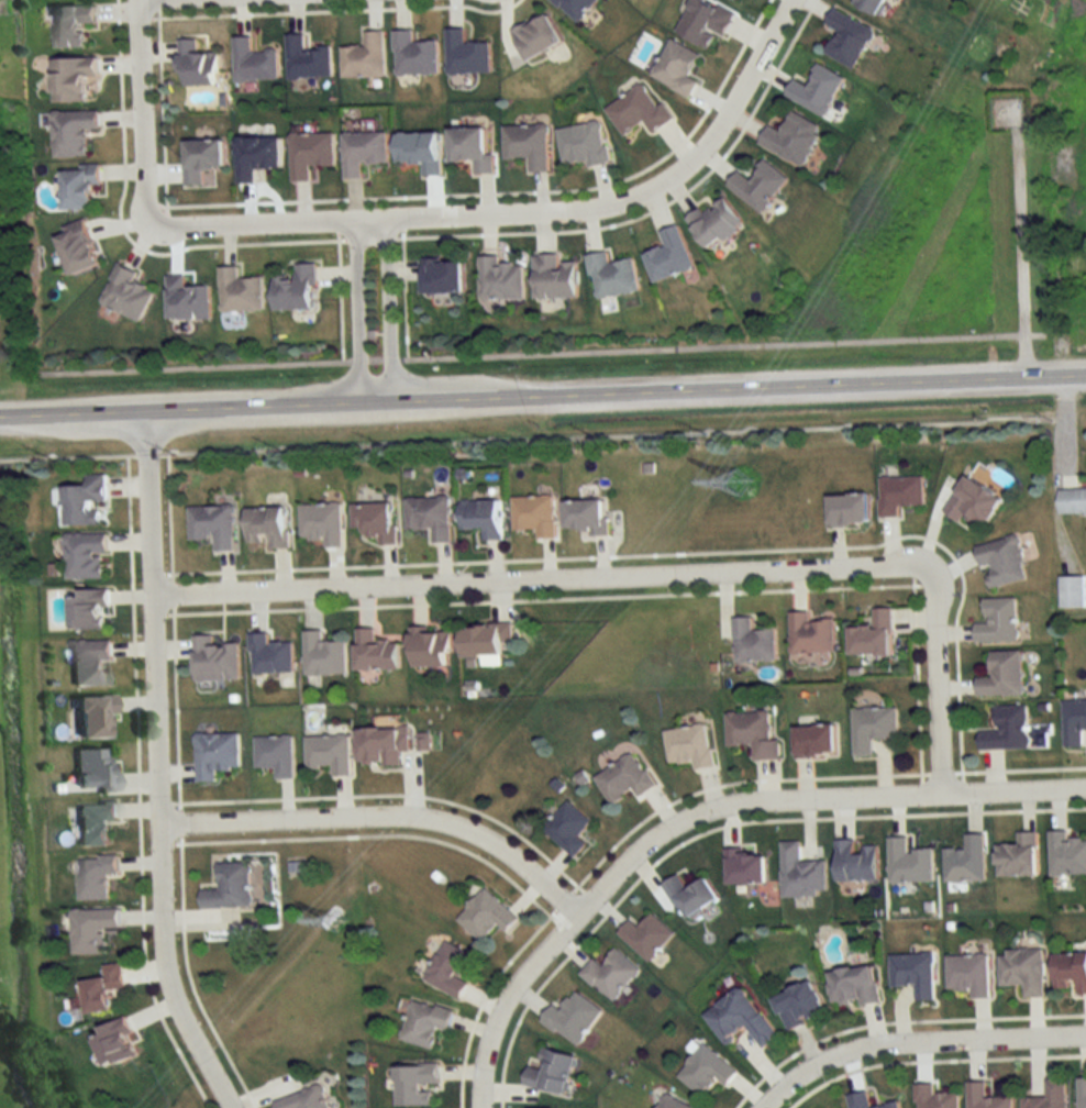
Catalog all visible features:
road: (144, 0)
building: (872, 5)
building: (576, 7)
building: (705, 22)
building: (69, 24)
building: (535, 37)
building: (847, 37)
building: (465, 55)
building: (413, 56)
building: (364, 58)
building: (306, 60)
building: (253, 63)
building: (196, 66)
building: (676, 68)
building: (70, 79)
building: (816, 91)
building: (638, 112)
road: (732, 113)
road: (138, 129)
building: (70, 132)
building: (791, 140)
building: (583, 145)
building: (528, 147)
building: (470, 151)
building: (363, 152)
building: (419, 153)
building: (309, 154)
building: (255, 158)
building: (200, 160)
building: (757, 186)
building: (78, 189)
road: (410, 219)
building: (713, 223)
building: (75, 248)
building: (667, 255)
road: (1018, 256)
building: (442, 276)
building: (610, 276)
building: (553, 277)
building: (500, 280)
building: (296, 289)
building: (239, 292)
building: (124, 295)
building: (186, 300)
road: (389, 311)
road: (356, 312)
road: (542, 350)
road: (543, 397)
road: (527, 436)
power tower: (741, 486)
building: (898, 494)
building: (84, 499)
building: (1072, 500)
building: (972, 501)
building: (846, 509)
road: (167, 516)
building: (532, 516)
building: (585, 516)
building: (428, 517)
building: (480, 517)
building: (374, 520)
building: (320, 522)
building: (212, 524)
building: (266, 525)
building: (84, 554)
road: (673, 554)
building: (1000, 561)
road: (557, 578)
building: (1071, 591)
road: (169, 592)
road: (541, 598)
building: (87, 608)
building: (997, 621)
building: (809, 633)
building: (872, 634)
building: (751, 641)
building: (484, 642)
building: (430, 647)
building: (374, 651)
building: (269, 655)
building: (323, 655)
building: (214, 660)
building: (87, 661)
building: (1001, 674)
road: (913, 678)
road: (933, 700)
road: (173, 708)
building: (89, 714)
building: (1073, 721)
building: (871, 727)
building: (1006, 729)
building: (751, 732)
building: (813, 739)
building: (381, 744)
building: (688, 744)
building: (329, 752)
building: (215, 754)
building: (275, 755)
road: (156, 767)
road: (1018, 768)
building: (90, 771)
road: (938, 772)
building: (623, 778)
road: (729, 783)
road: (135, 787)
road: (389, 795)
road: (699, 811)
road: (381, 818)
building: (92, 821)
road: (178, 822)
road: (714, 827)
building: (567, 829)
road: (375, 834)
building: (1065, 854)
building: (1017, 856)
building: (964, 861)
building: (854, 862)
building: (907, 862)
building: (745, 867)
building: (800, 873)
building: (95, 876)
building: (230, 886)
building: (690, 896)
building: (486, 915)
power tower: (339, 923)
building: (91, 929)
building: (646, 935)
building: (450, 970)
building: (1021, 971)
building: (1068, 972)
building: (610, 974)
building: (913, 974)
building: (967, 974)
road: (188, 978)
building: (853, 986)
building: (103, 989)
building: (798, 1005)
building: (573, 1018)
building: (739, 1018)
road: (896, 1020)
building: (425, 1022)
road: (917, 1041)
building: (115, 1043)
road: (930, 1060)
building: (550, 1070)
building: (705, 1070)
building: (415, 1084)
building: (1082, 1093)
building: (1049, 1096)
building: (934, 1097)
building: (985, 1097)
building: (304, 1099)
building: (867, 1101)
building: (673, 1103)

